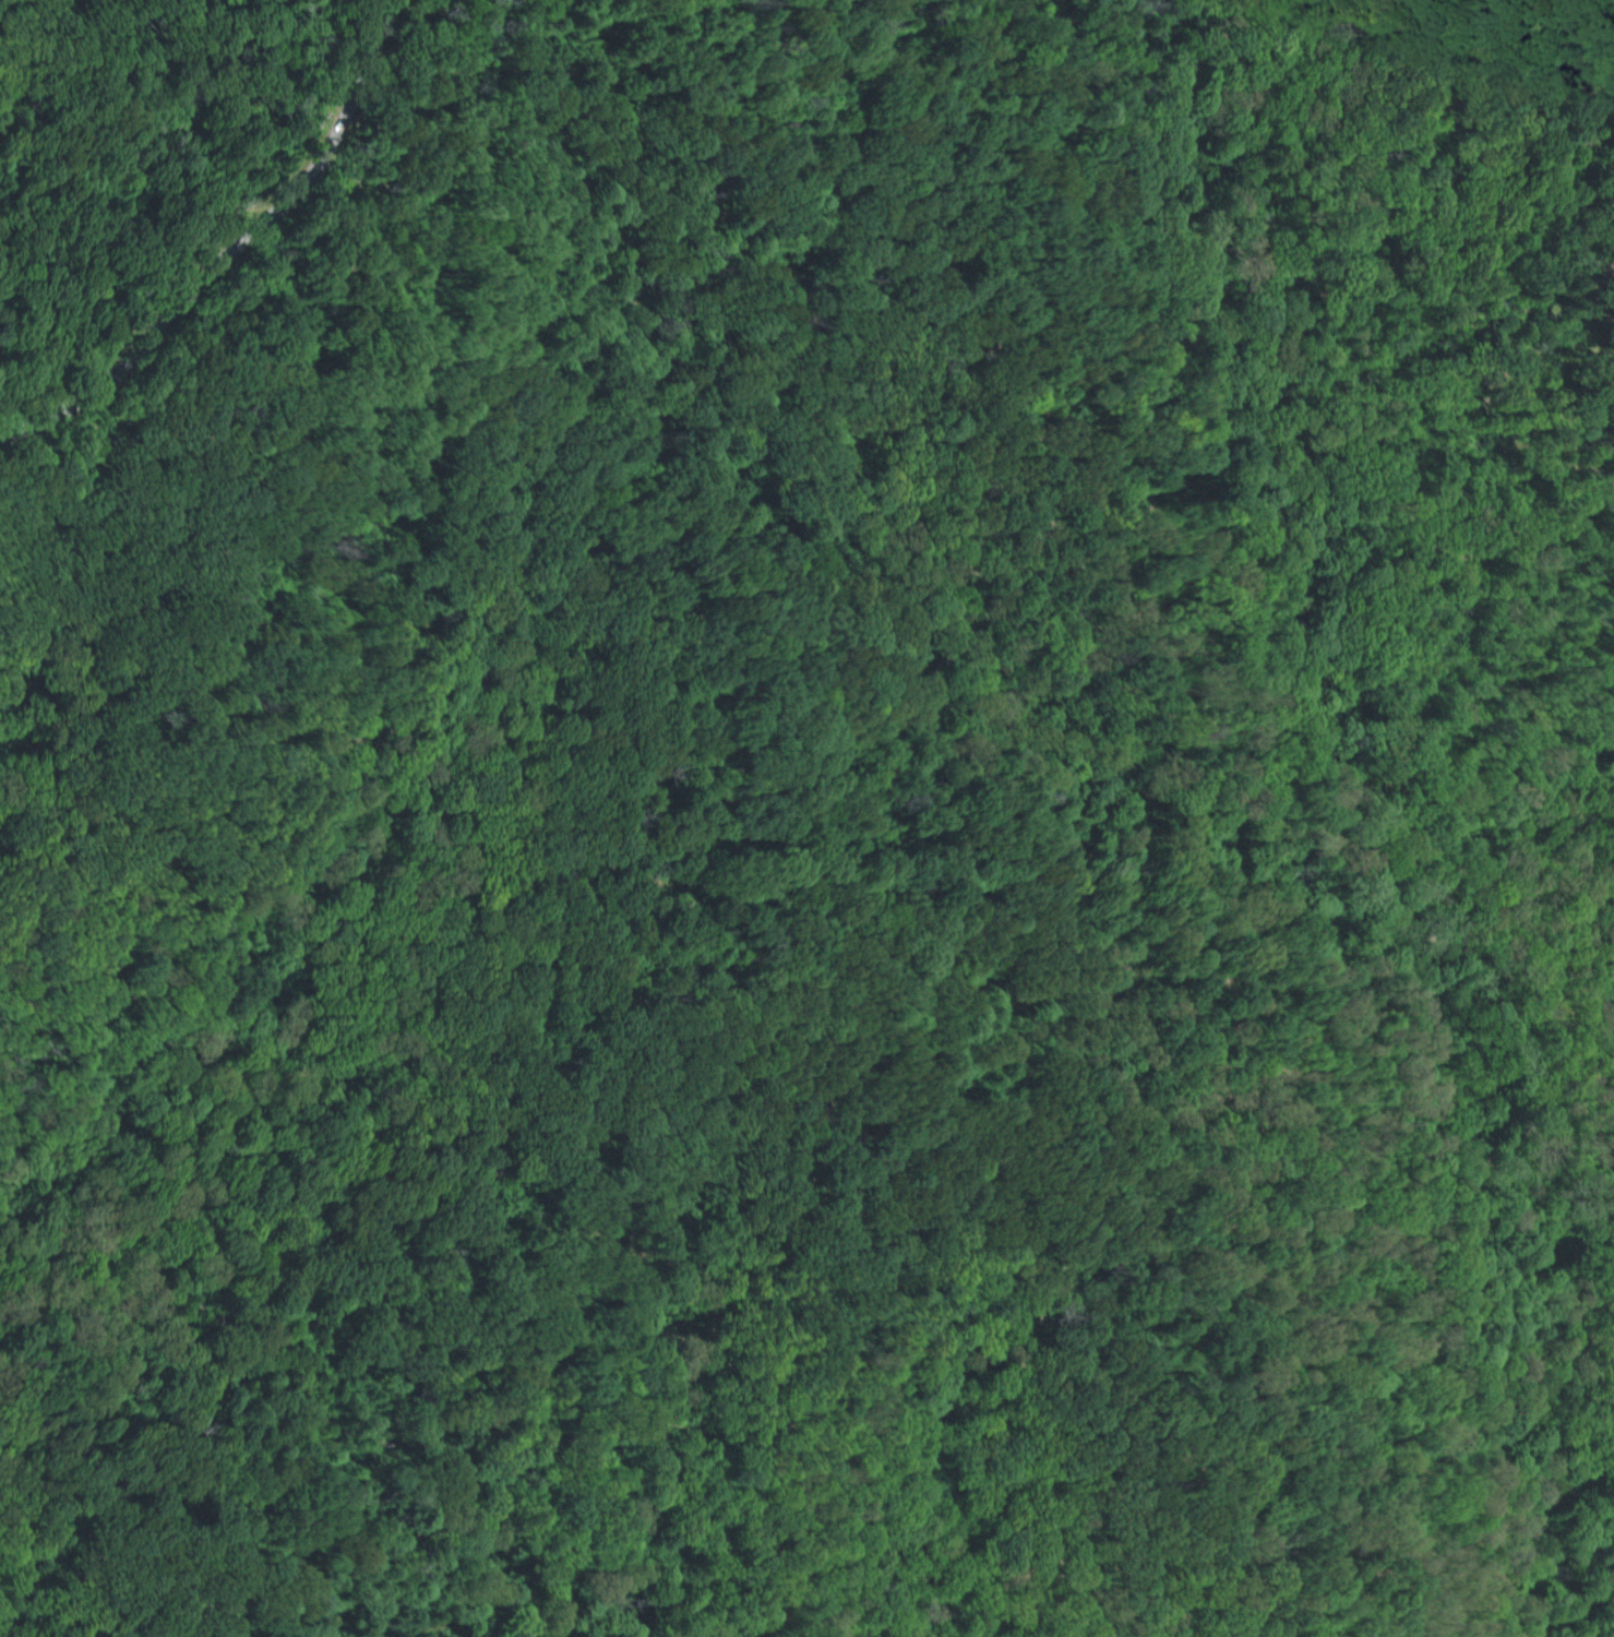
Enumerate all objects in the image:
road: (232, 249)
road: (745, 703)
road: (319, 1584)
road: (371, 1586)

